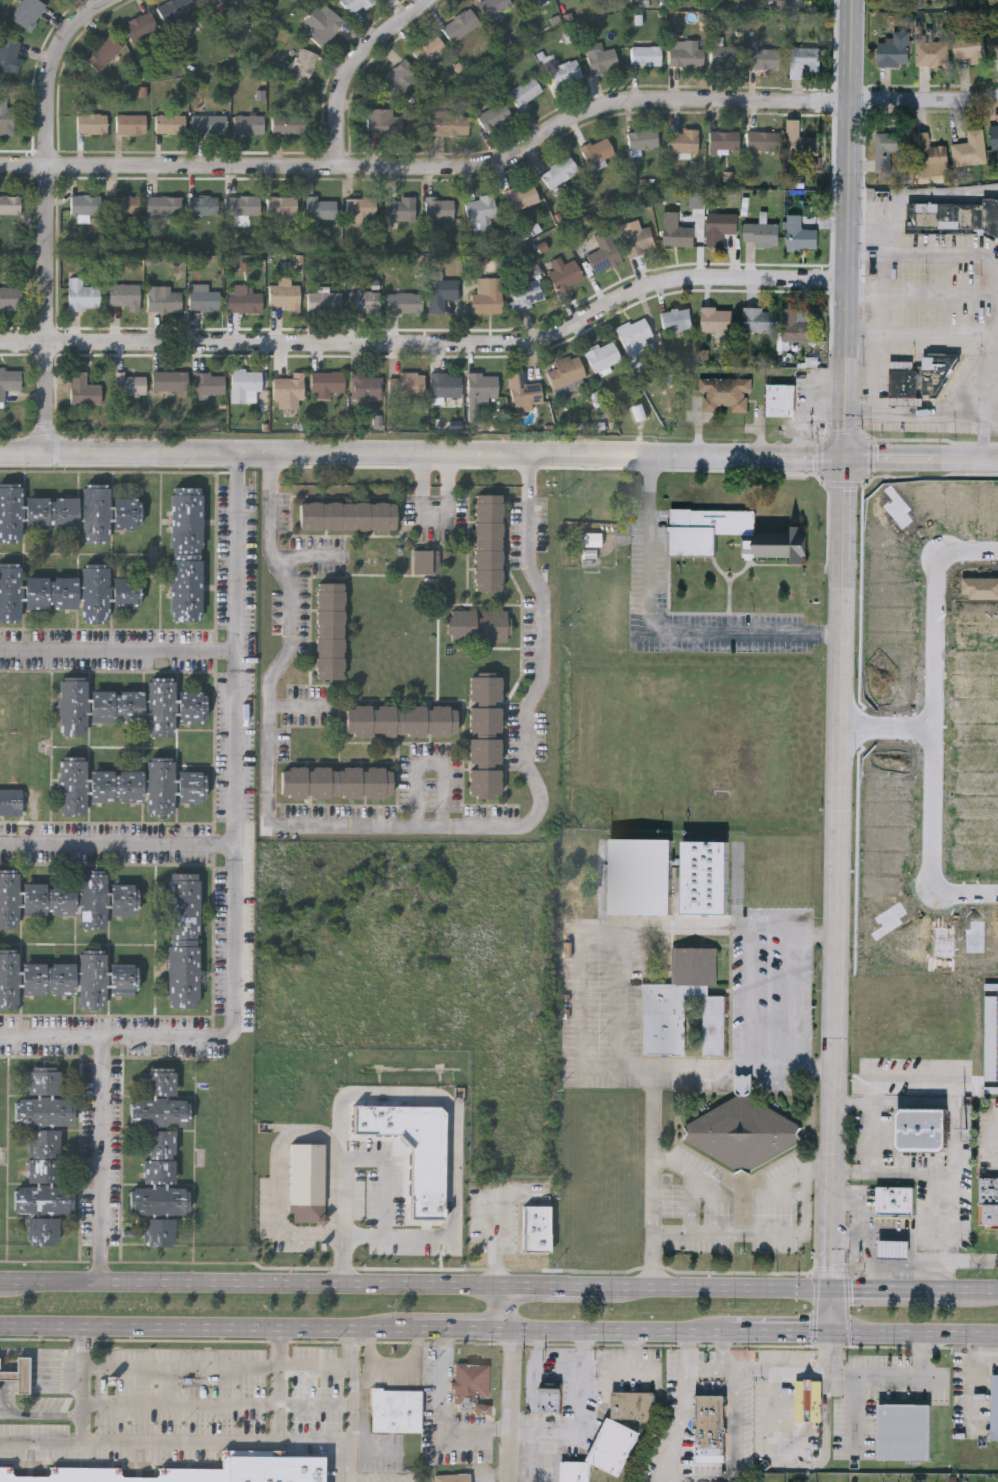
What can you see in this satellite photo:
building: (523, 1)
building: (213, 5)
building: (356, 5)
building: (493, 6)
building: (27, 12)
building: (176, 13)
building: (321, 22)
building: (460, 24)
building: (140, 25)
building: (994, 42)
building: (969, 46)
building: (429, 49)
building: (894, 49)
building: (931, 51)
building: (103, 52)
building: (684, 53)
building: (724, 53)
building: (9, 54)
building: (645, 54)
building: (805, 56)
building: (764, 57)
building: (602, 60)
building: (304, 64)
road: (356, 68)
building: (563, 71)
building: (399, 79)
building: (525, 91)
building: (494, 115)
building: (6, 120)
building: (383, 121)
building: (91, 122)
building: (446, 122)
building: (130, 123)
building: (169, 123)
building: (208, 123)
building: (249, 124)
building: (289, 124)
building: (994, 134)
building: (642, 138)
building: (723, 140)
building: (762, 140)
building: (682, 141)
building: (802, 143)
building: (970, 148)
building: (597, 150)
building: (890, 150)
building: (929, 155)
road: (506, 161)
building: (559, 171)
building: (522, 196)
building: (10, 204)
building: (85, 204)
building: (202, 204)
building: (123, 205)
building: (163, 205)
building: (243, 205)
building: (281, 205)
building: (319, 208)
building: (399, 208)
building: (438, 208)
building: (360, 209)
building: (479, 209)
road: (50, 212)
building: (955, 216)
building: (720, 225)
building: (676, 229)
building: (800, 231)
building: (762, 232)
building: (637, 238)
building: (604, 251)
road: (928, 255)
building: (565, 274)
parking lot: (930, 274)
building: (440, 289)
building: (527, 292)
road: (923, 293)
building: (81, 294)
building: (124, 294)
building: (284, 294)
building: (10, 297)
building: (163, 299)
building: (203, 299)
building: (242, 299)
building: (363, 299)
building: (323, 301)
building: (404, 301)
parking lot: (928, 315)
building: (716, 317)
building: (676, 318)
building: (758, 318)
building: (793, 324)
road: (922, 330)
road: (431, 340)
building: (634, 341)
building: (603, 355)
building: (566, 369)
building: (937, 369)
road: (871, 372)
parking lot: (881, 372)
building: (9, 379)
building: (169, 380)
building: (327, 380)
building: (902, 381)
building: (209, 382)
building: (244, 383)
building: (406, 383)
building: (445, 383)
building: (130, 384)
building: (365, 384)
building: (482, 384)
parking lot: (953, 384)
building: (83, 388)
building: (287, 391)
building: (524, 391)
building: (725, 393)
road: (994, 393)
building: (781, 399)
gas station: (781, 399)
road: (917, 415)
parking lot: (913, 427)
road: (499, 454)
traffic signals: (845, 459)
building: (51, 510)
building: (126, 510)
building: (10, 511)
building: (95, 511)
building: (348, 514)
building: (773, 534)
building: (488, 541)
building: (592, 541)
building: (186, 551)
road: (968, 552)
building: (426, 560)
parking lot: (648, 563)
building: (50, 590)
building: (126, 590)
building: (10, 591)
building: (95, 592)
building: (480, 624)
building: (330, 630)
road: (656, 635)
road: (842, 643)
road: (118, 649)
building: (116, 704)
building: (191, 704)
building: (73, 705)
building: (161, 705)
road: (300, 705)
building: (401, 719)
road: (934, 721)
road: (888, 724)
building: (485, 735)
road: (433, 766)
building: (336, 780)
building: (116, 783)
building: (191, 784)
building: (72, 785)
building: (160, 785)
building: (11, 800)
road: (234, 805)
road: (400, 827)
road: (117, 846)
building: (641, 875)
building: (706, 875)
road: (964, 891)
building: (50, 898)
building: (124, 898)
building: (10, 899)
building: (95, 900)
road: (766, 925)
road: (814, 933)
building: (183, 937)
building: (50, 978)
building: (125, 978)
building: (9, 979)
building: (94, 980)
building: (991, 985)
road: (623, 996)
road: (751, 996)
road: (792, 996)
building: (684, 1005)
road: (51, 1035)
building: (992, 1036)
road: (584, 1037)
road: (771, 1068)
road: (815, 1068)
building: (44, 1080)
building: (160, 1081)
building: (992, 1089)
building: (43, 1111)
building: (160, 1112)
building: (922, 1127)
building: (743, 1129)
road: (873, 1137)
road: (956, 1138)
road: (457, 1147)
building: (413, 1149)
building: (44, 1155)
building: (159, 1157)
road: (102, 1159)
road: (281, 1164)
road: (655, 1176)
road: (389, 1177)
building: (307, 1183)
road: (729, 1194)
road: (783, 1196)
building: (44, 1199)
building: (159, 1199)
building: (895, 1199)
building: (988, 1199)
road: (694, 1203)
road: (502, 1223)
building: (536, 1228)
building: (43, 1230)
building: (158, 1231)
road: (775, 1232)
building: (894, 1247)
gas station: (894, 1247)
road: (984, 1260)
road: (336, 1283)
road: (753, 1287)
traffic signals: (835, 1288)
road: (894, 1288)
road: (975, 1289)
road: (834, 1309)
road: (365, 1326)
road: (782, 1329)
traffic signals: (834, 1330)
road: (878, 1330)
road: (960, 1331)
road: (834, 1349)
road: (923, 1350)
road: (634, 1352)
road: (41, 1354)
road: (537, 1354)
road: (44, 1365)
road: (709, 1365)
road: (219, 1368)
road: (834, 1369)
road: (38, 1370)
building: (19, 1374)
road: (980, 1374)
road: (631, 1375)
road: (45, 1378)
road: (84, 1383)
road: (510, 1384)
road: (41, 1385)
road: (442, 1386)
building: (471, 1389)
road: (582, 1399)
building: (551, 1400)
road: (7, 1401)
building: (808, 1401)
road: (775, 1403)
building: (632, 1404)
road: (855, 1406)
road: (219, 1407)
building: (995, 1409)
parking lot: (168, 1413)
building: (396, 1413)
road: (11, 1416)
road: (355, 1421)
building: (710, 1427)
building: (904, 1431)
road: (198, 1444)
building: (613, 1445)
road: (354, 1460)
building: (200, 1471)
building: (575, 1471)
road: (701, 1478)
building: (454, 1479)

